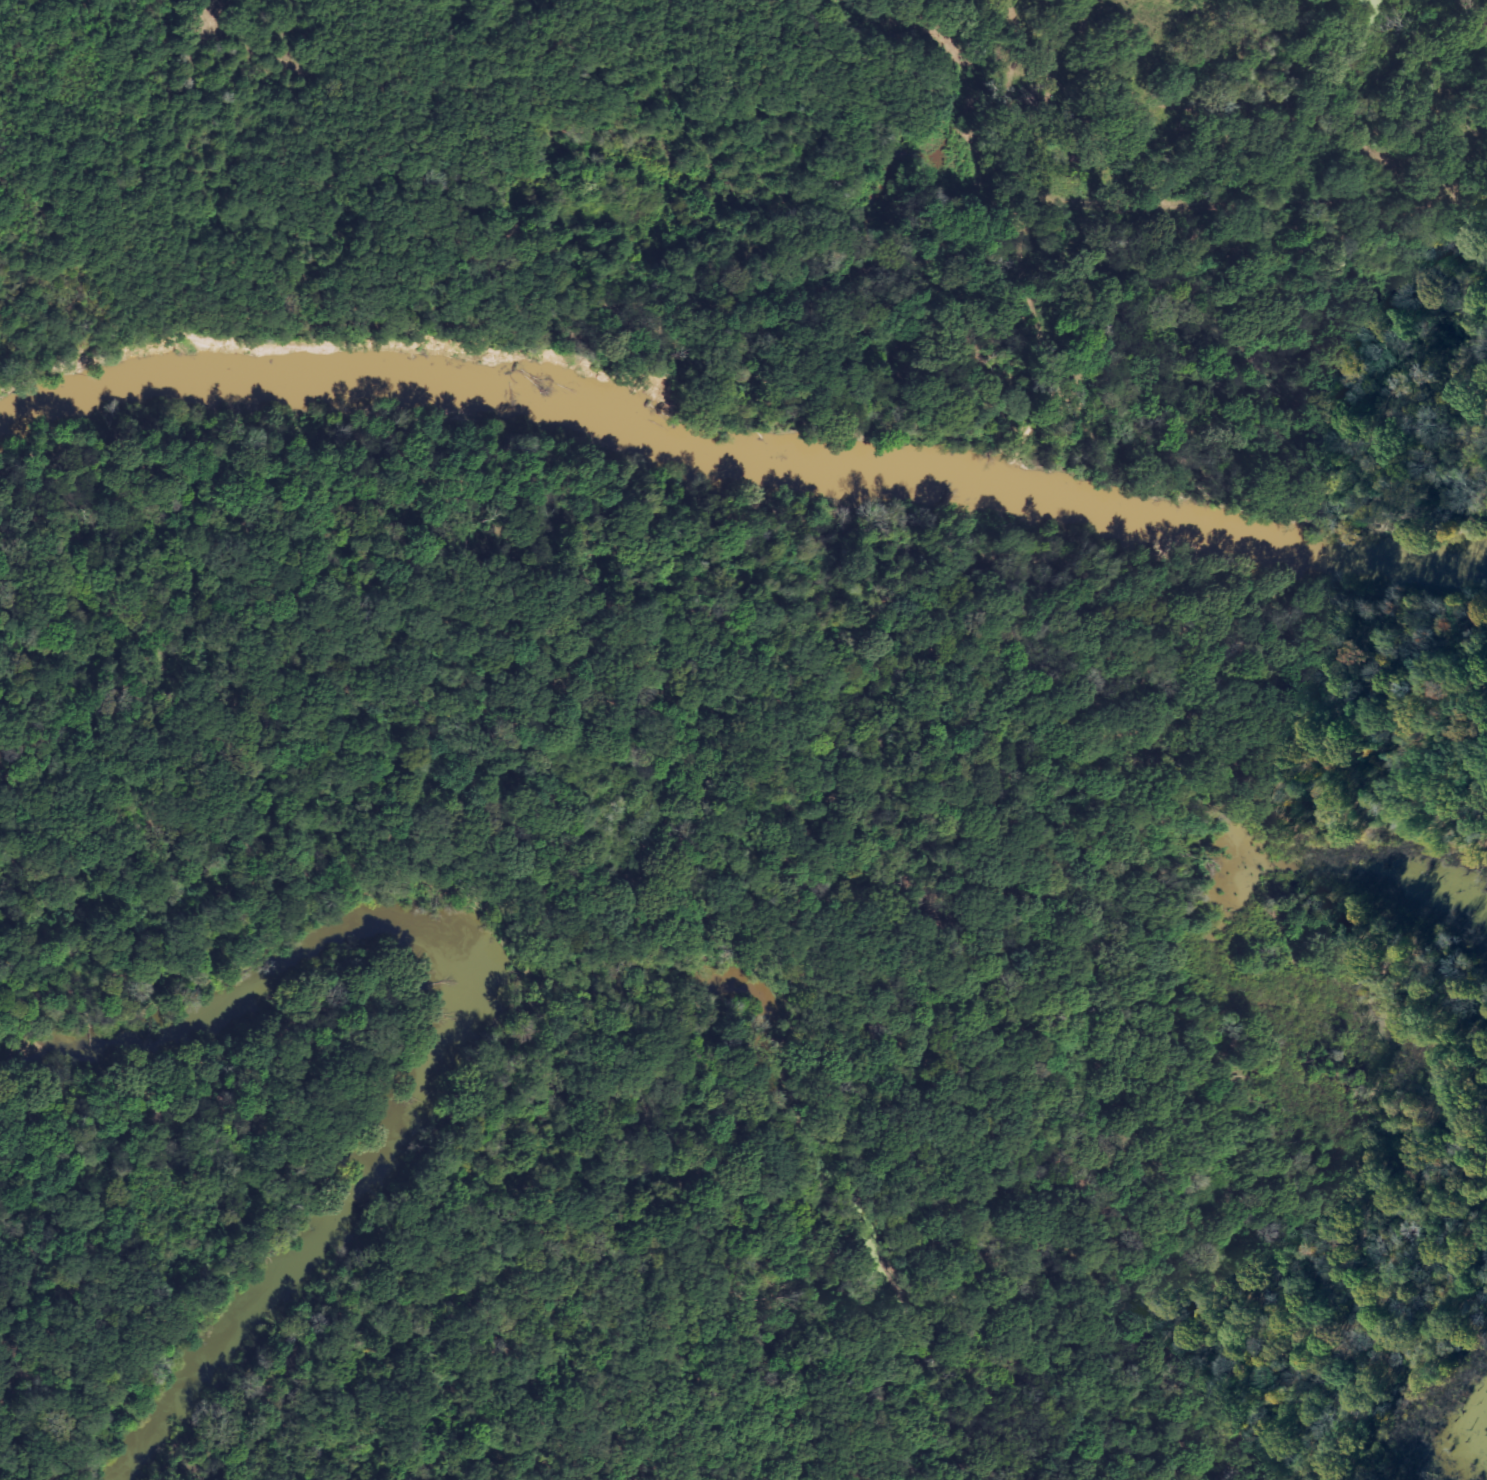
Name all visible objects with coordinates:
road: (1134, 235)
river: (739, 450)

